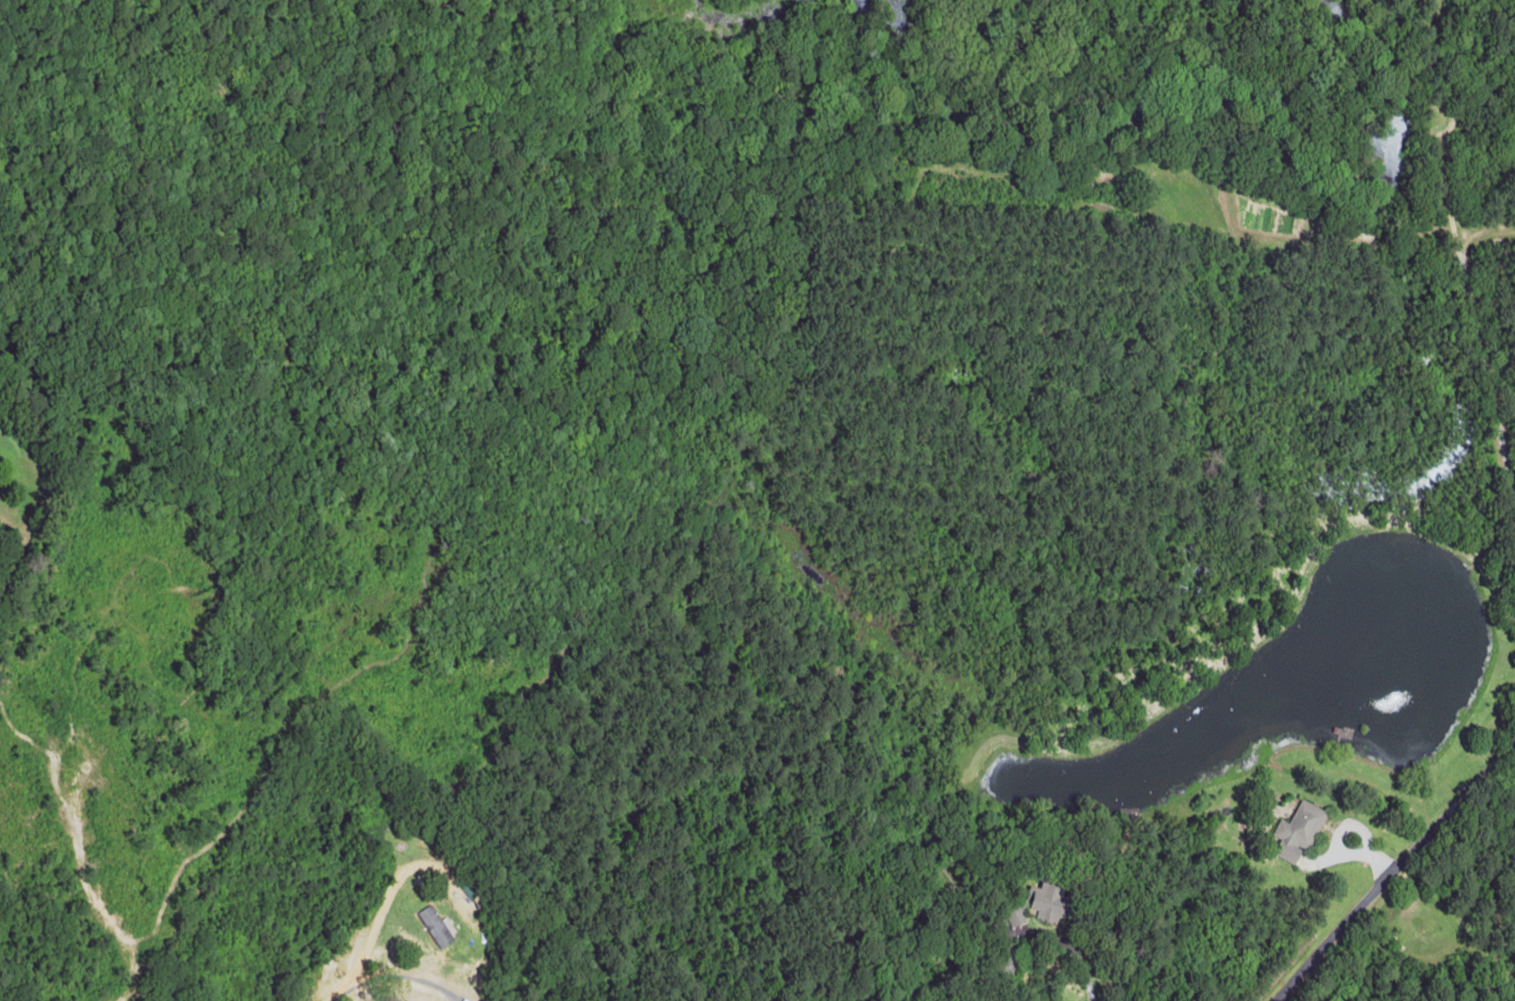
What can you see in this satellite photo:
road: (1458, 297)
building: (1302, 825)
building: (1048, 903)
road: (1409, 909)
building: (1016, 920)
building: (437, 927)

